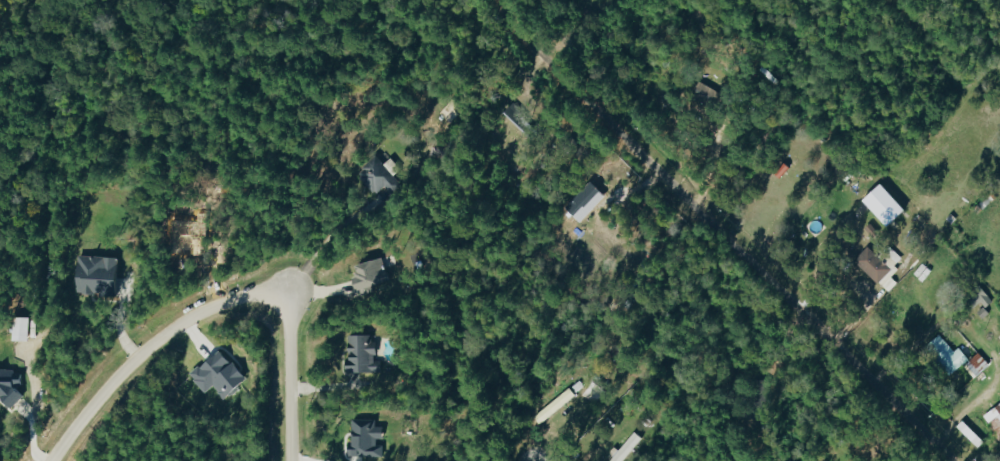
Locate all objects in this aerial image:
building: (706, 93)
building: (516, 115)
building: (375, 174)
road: (715, 234)
road: (333, 241)
building: (879, 267)
building: (95, 274)
building: (369, 274)
building: (981, 296)
road: (222, 308)
building: (18, 328)
building: (359, 353)
building: (946, 354)
building: (976, 364)
building: (213, 375)
building: (8, 386)
road: (32, 409)
building: (994, 420)
building: (969, 433)
building: (365, 438)
building: (626, 448)
road: (522, 454)

